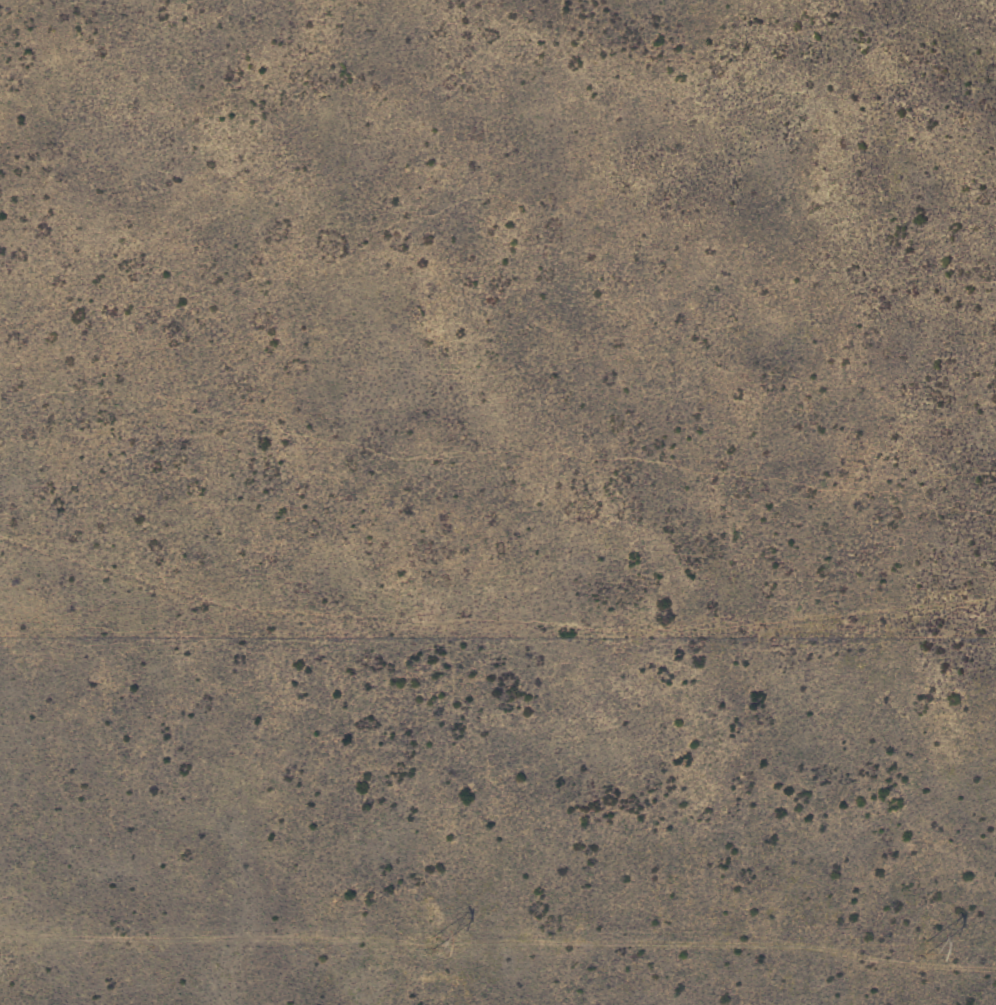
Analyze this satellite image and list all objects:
power tower: (440, 939)
power tower: (925, 948)

